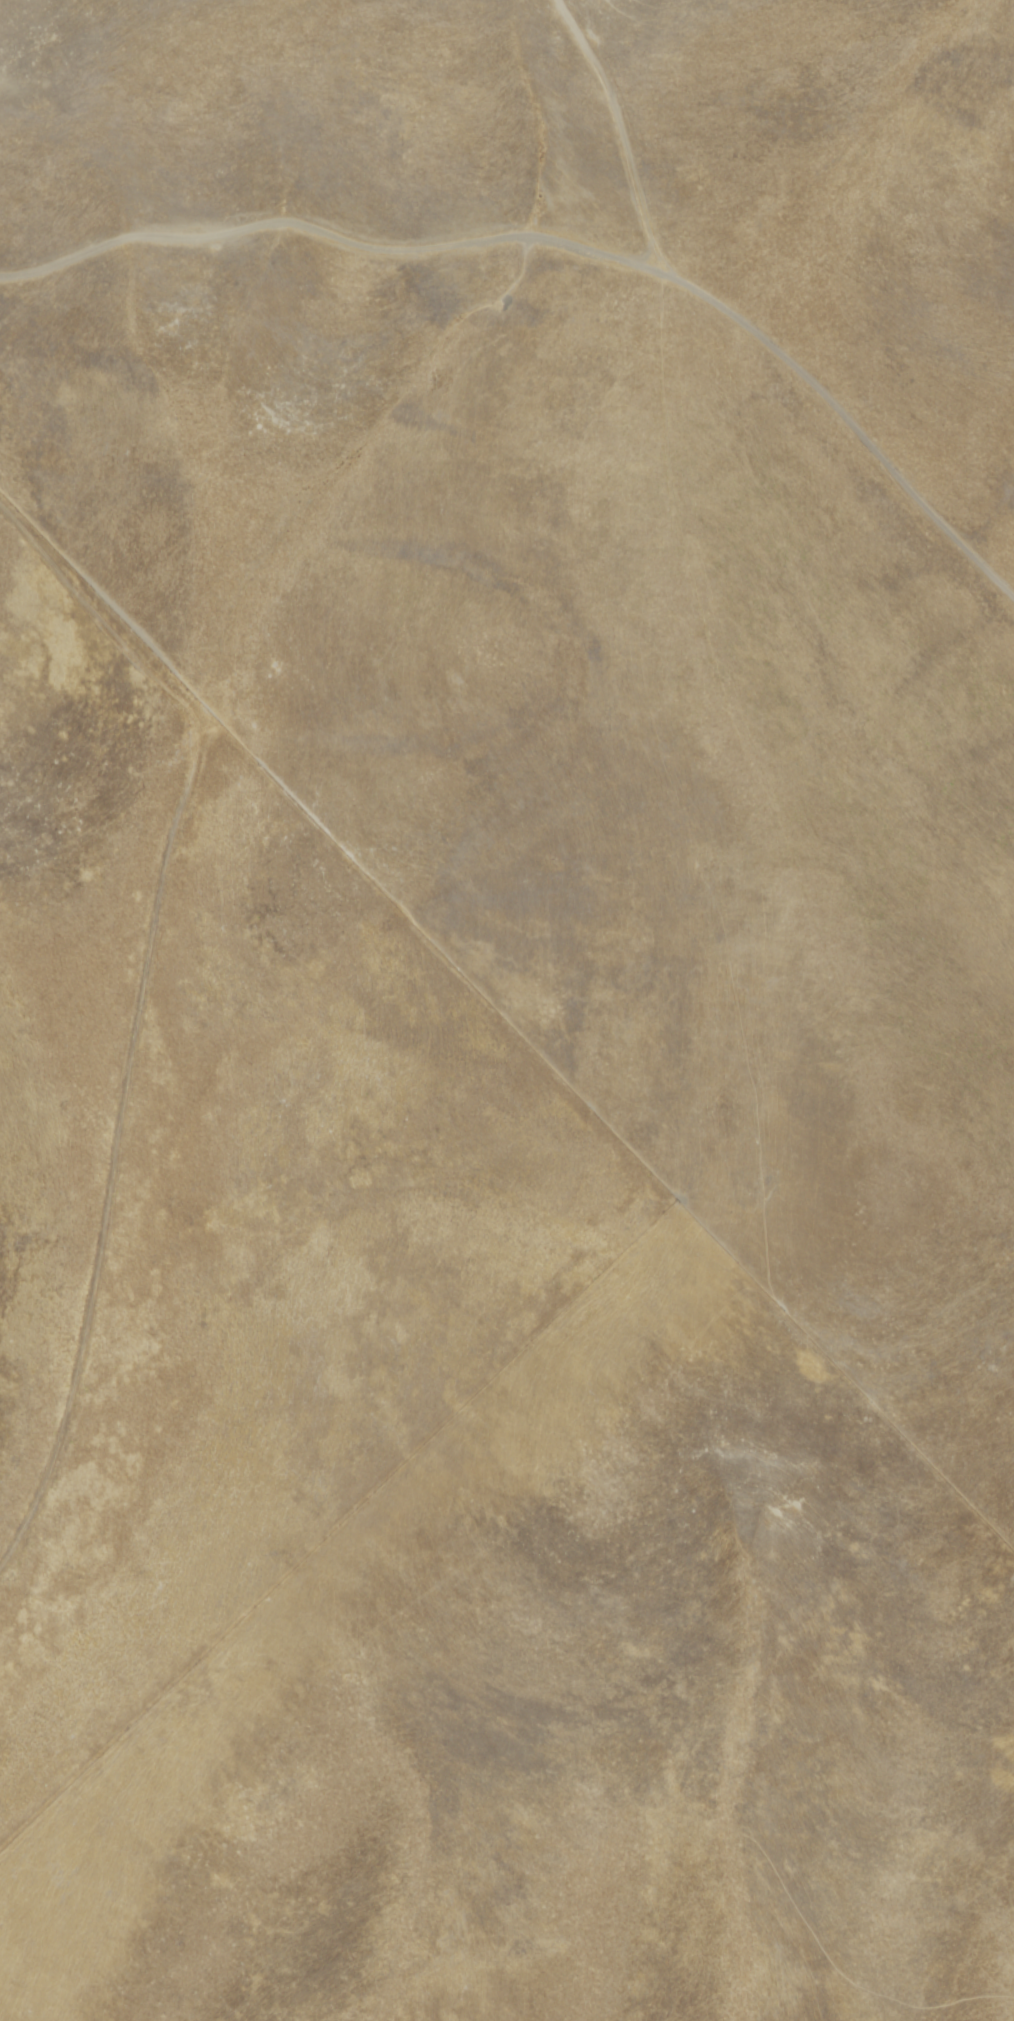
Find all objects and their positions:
road: (565, 243)

